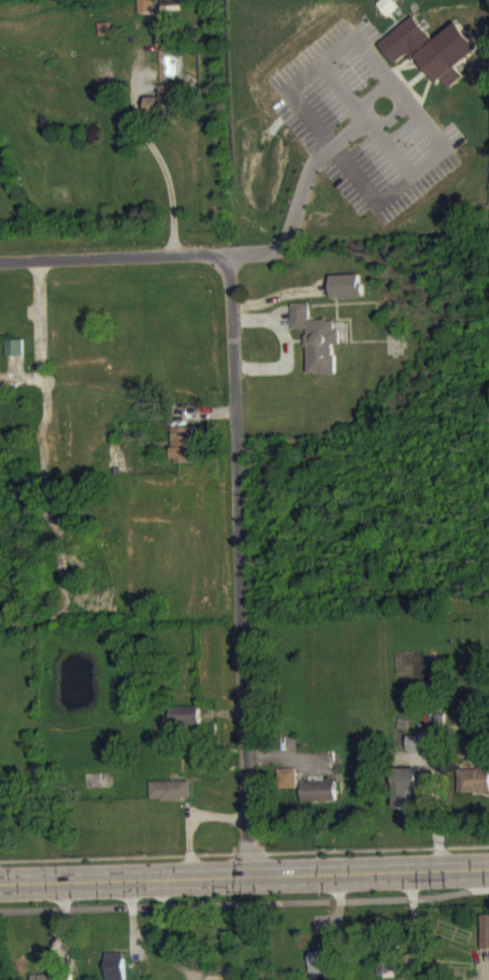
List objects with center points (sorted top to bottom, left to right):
building: (147, 13)
building: (172, 15)
building: (388, 15)
building: (104, 38)
building: (169, 52)
road: (338, 59)
building: (421, 61)
building: (165, 111)
road: (371, 117)
road: (159, 170)
road: (427, 171)
road: (299, 206)
road: (109, 263)
building: (347, 296)
road: (38, 328)
building: (319, 350)
building: (15, 357)
building: (184, 454)
road: (47, 517)
road: (234, 567)
building: (184, 726)
building: (415, 753)
building: (287, 789)
building: (474, 789)
building: (414, 790)
building: (170, 800)
building: (319, 801)
road: (244, 876)
road: (244, 904)
building: (485, 942)
building: (321, 970)
building: (114, 971)
building: (387, 971)
road: (487, 972)

